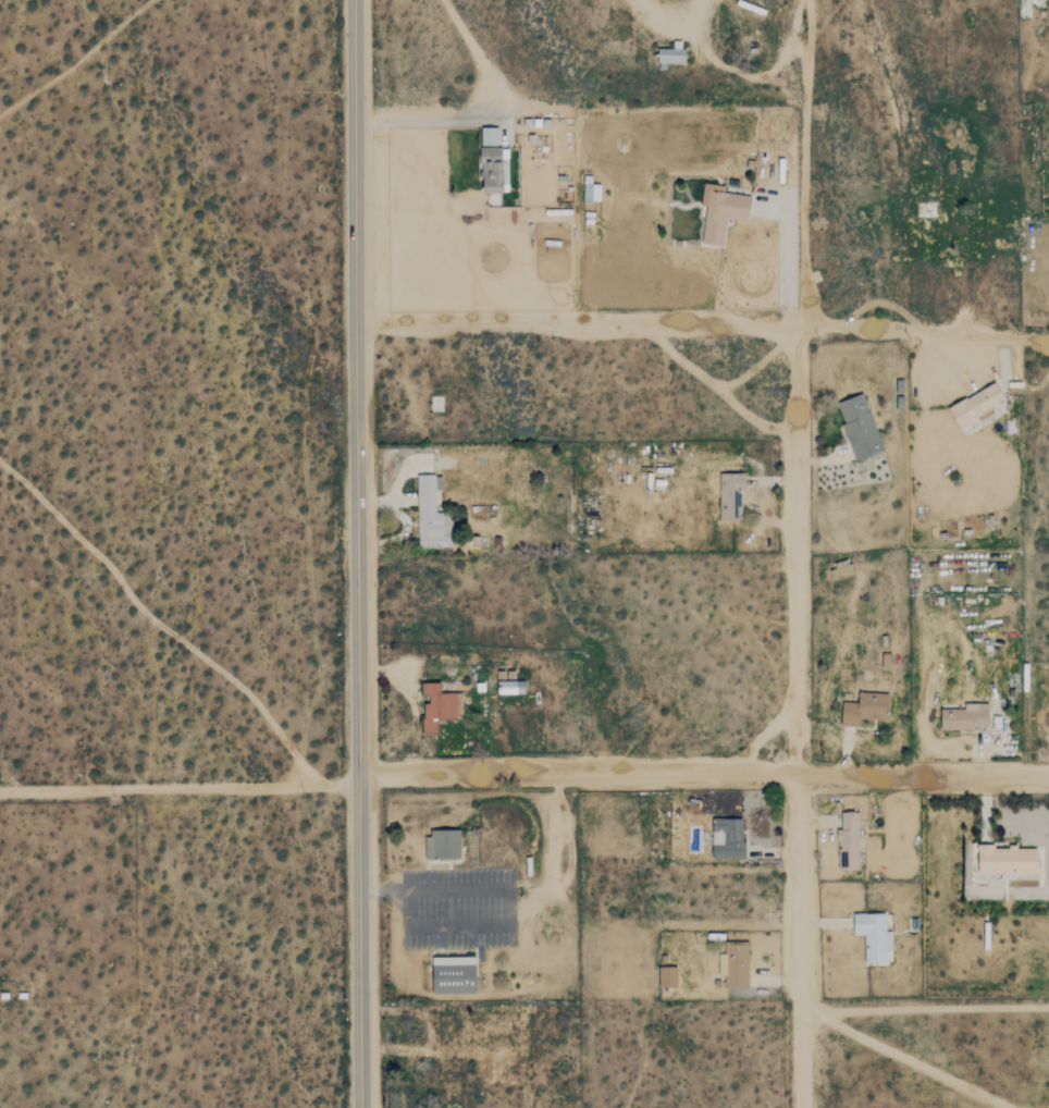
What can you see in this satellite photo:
road: (672, 23)
building: (670, 57)
road: (735, 73)
road: (493, 120)
building: (489, 137)
building: (492, 170)
building: (591, 189)
building: (721, 211)
road: (788, 268)
road: (702, 323)
road: (1002, 356)
building: (976, 404)
building: (859, 426)
road: (822, 460)
building: (731, 496)
building: (431, 513)
road: (797, 552)
road: (358, 554)
building: (510, 686)
building: (439, 706)
building: (865, 709)
building: (965, 716)
road: (982, 744)
road: (1048, 762)
road: (705, 771)
road: (181, 785)
road: (982, 807)
building: (727, 838)
building: (849, 840)
building: (443, 844)
building: (1005, 861)
road: (508, 901)
building: (873, 936)
building: (737, 964)
building: (454, 974)
building: (667, 976)

